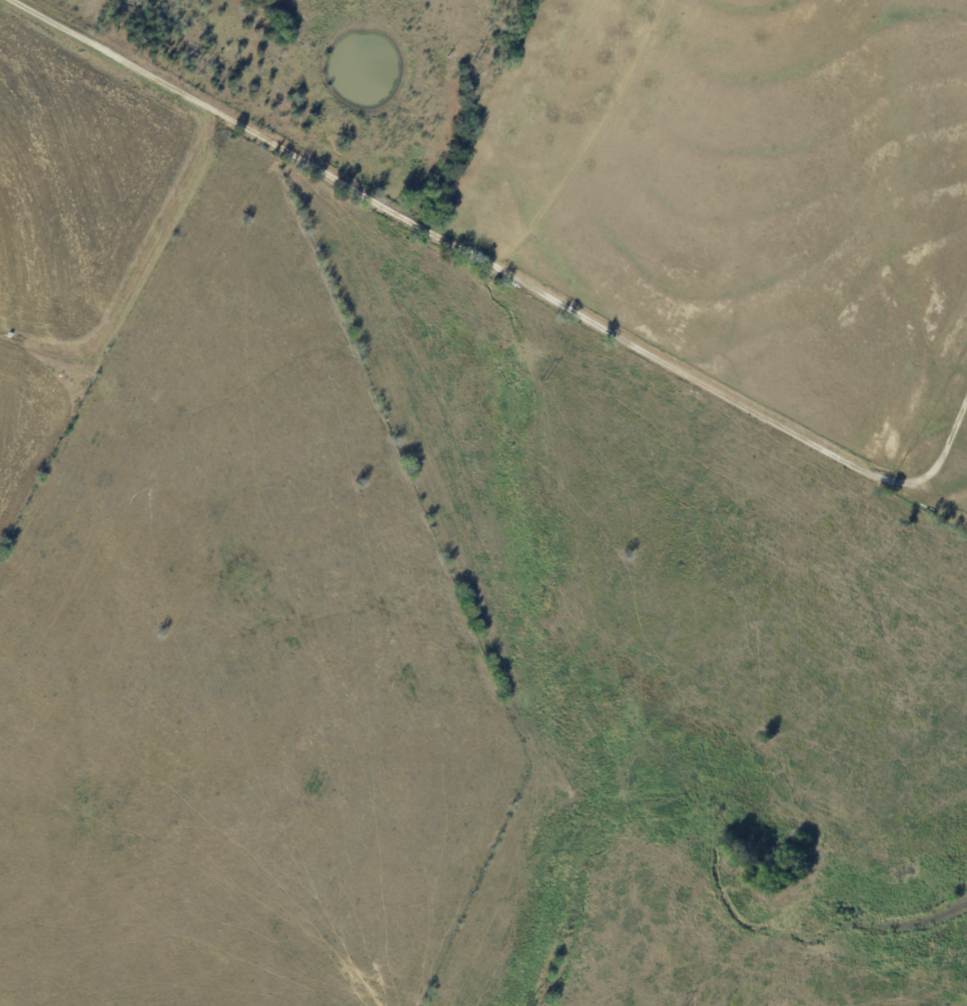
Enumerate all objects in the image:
power tower: (477, 59)
crop: (745, 198)
road: (511, 275)
power tower: (545, 380)
power tower: (613, 698)

